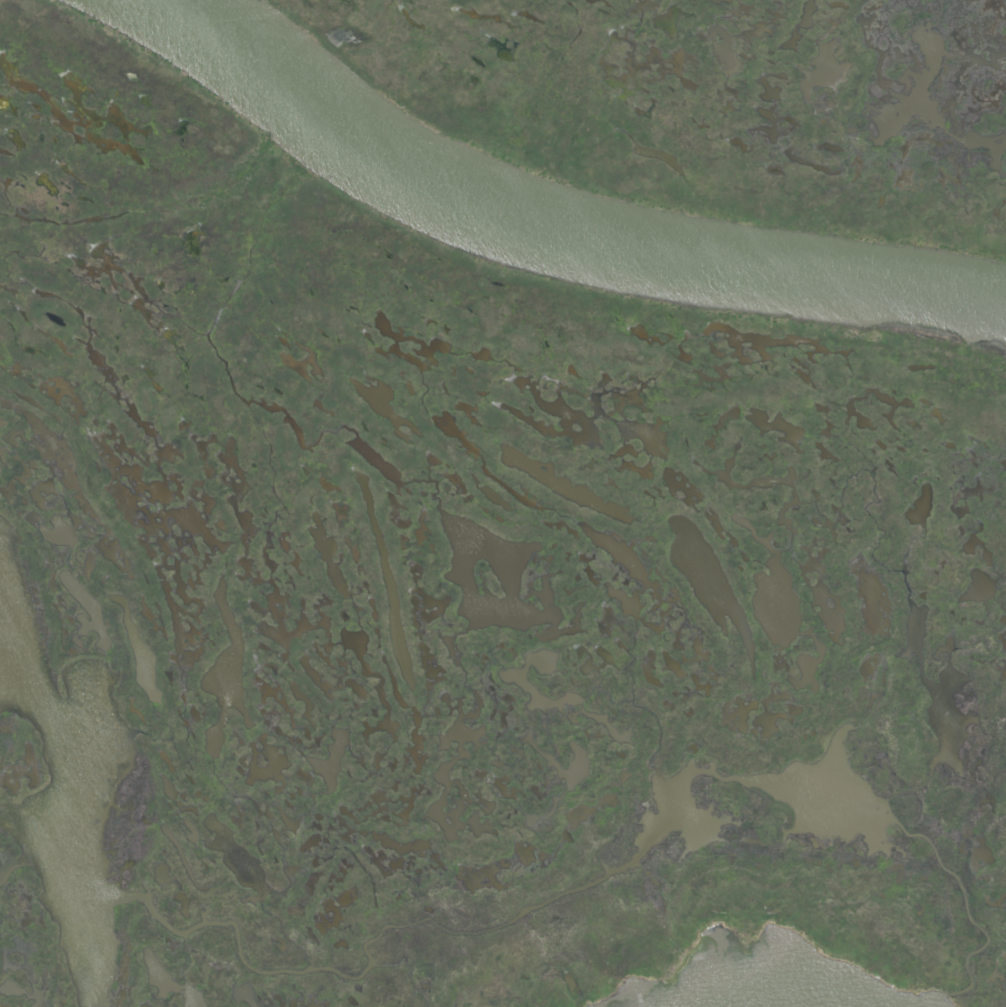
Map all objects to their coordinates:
river: (532, 230)

